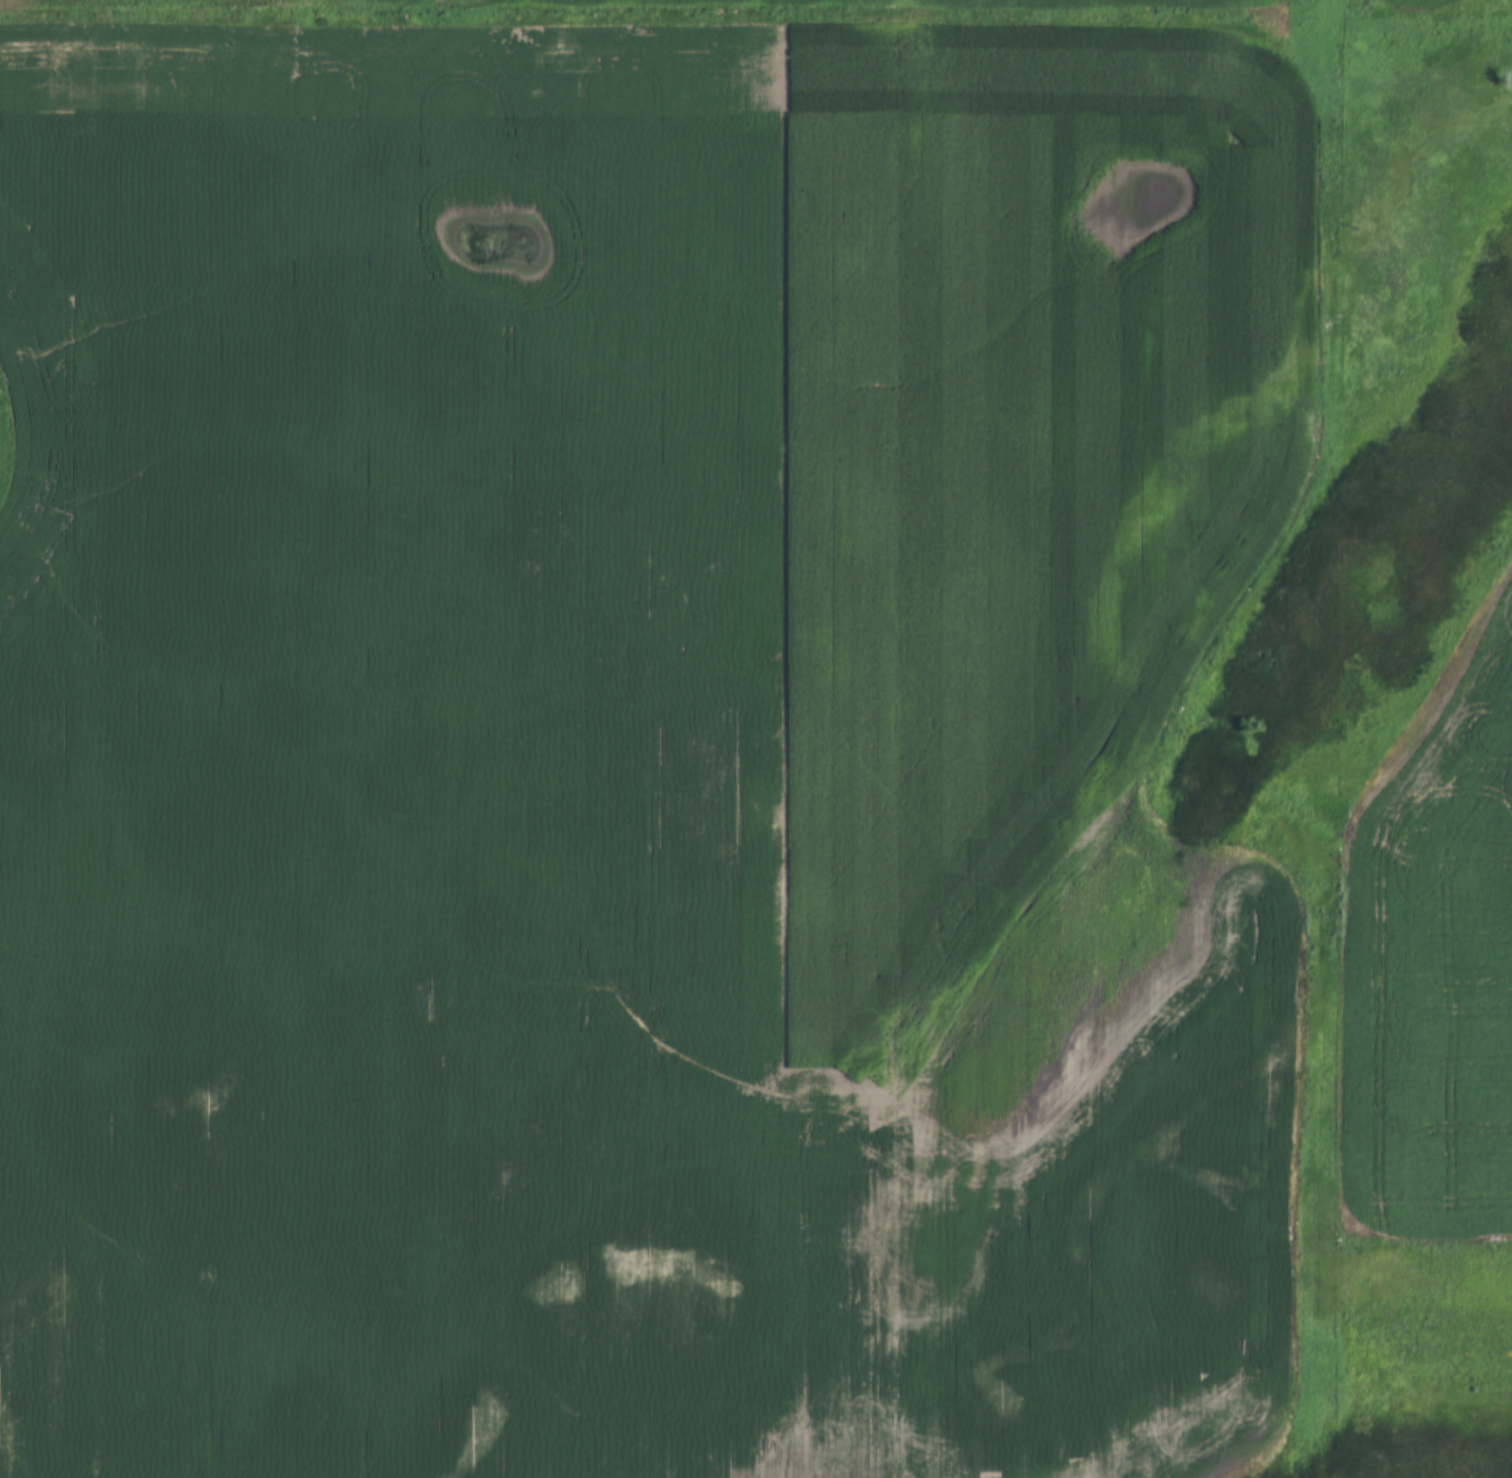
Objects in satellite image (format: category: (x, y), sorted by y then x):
crop: (1397, 5)
road: (1327, 739)
crop: (1427, 957)

